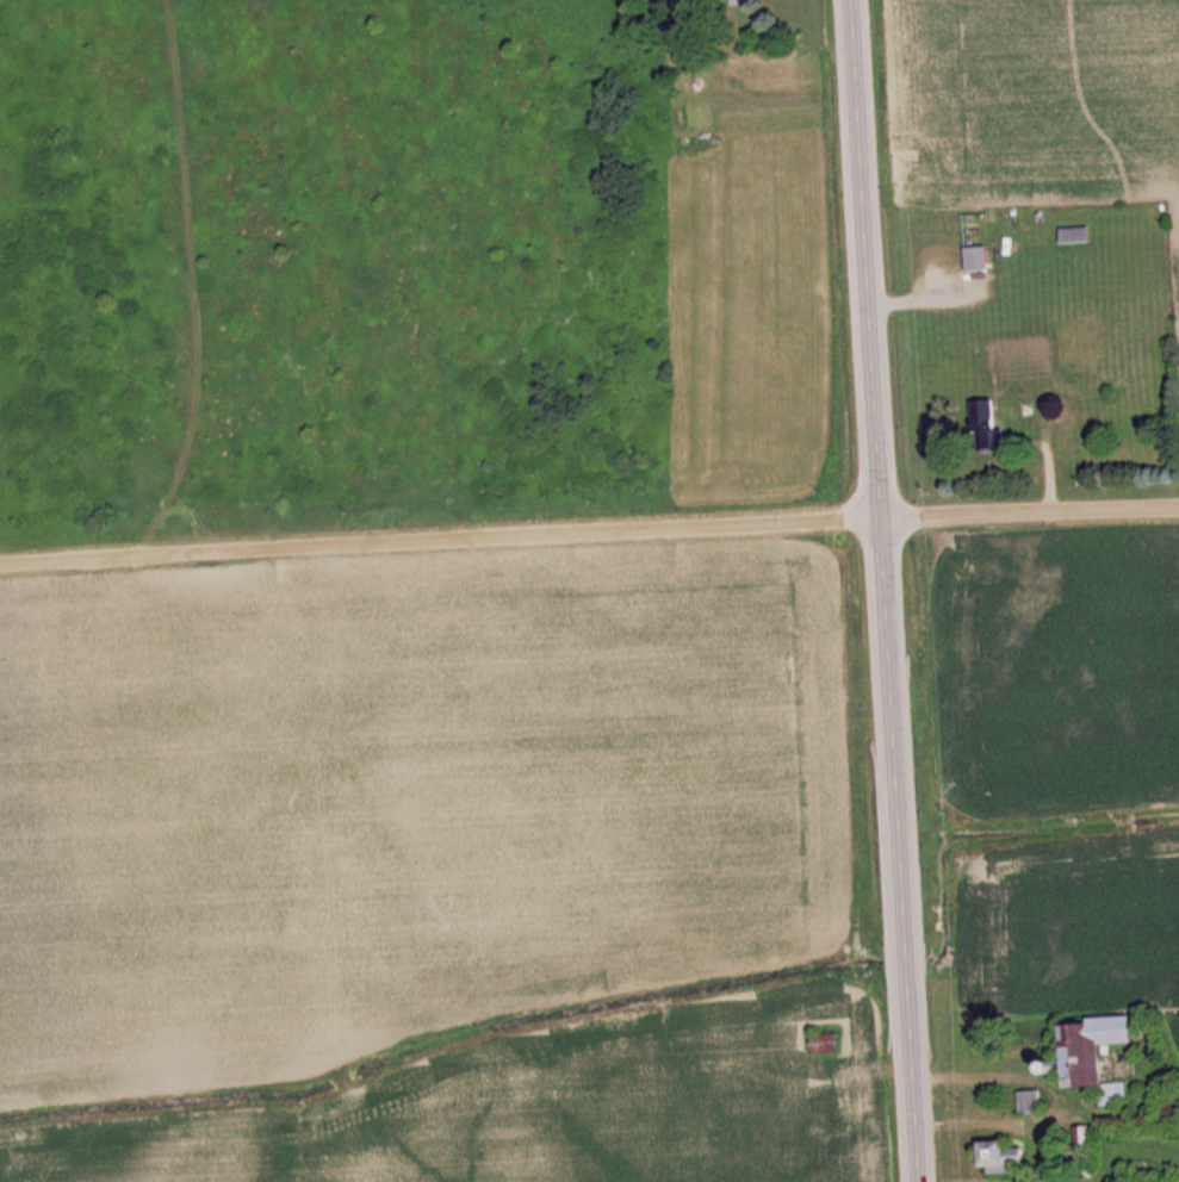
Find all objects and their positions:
building: (750, 2)
building: (1079, 236)
building: (980, 260)
building: (987, 421)
road: (1030, 506)
road: (440, 536)
road: (885, 590)
building: (831, 1043)
building: (1104, 1056)
building: (1174, 1102)
building: (1012, 1157)

